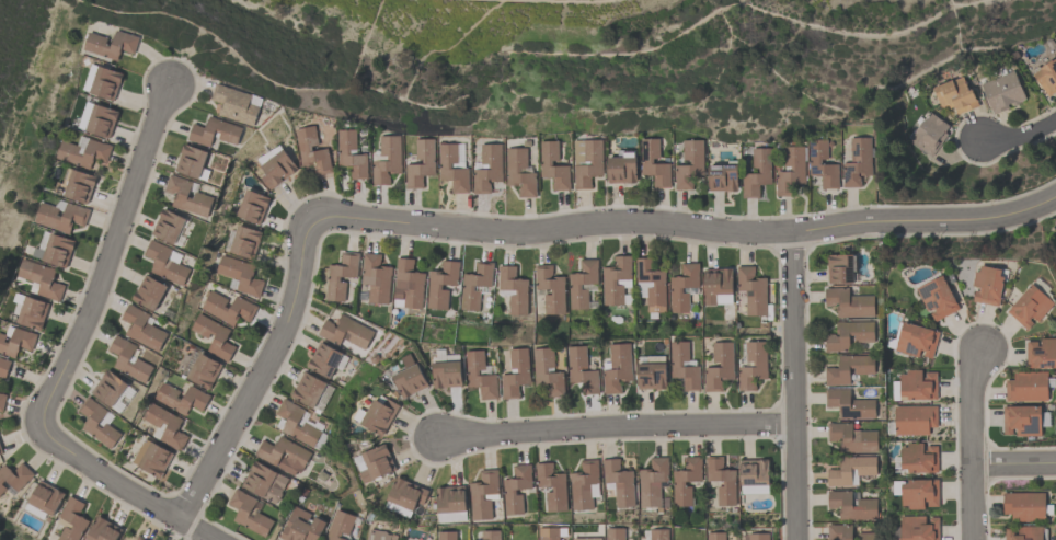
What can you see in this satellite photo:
park: (10, 45)
building: (110, 46)
building: (1047, 74)
building: (105, 83)
building: (1003, 90)
building: (956, 93)
building: (234, 104)
building: (101, 120)
building: (214, 131)
building: (930, 133)
road: (1015, 135)
building: (305, 149)
building: (343, 151)
building: (83, 152)
building: (191, 160)
building: (387, 160)
building: (587, 160)
building: (858, 160)
building: (428, 161)
building: (655, 161)
building: (690, 162)
building: (554, 163)
building: (823, 163)
building: (445, 165)
building: (487, 168)
building: (623, 168)
building: (276, 169)
building: (791, 170)
building: (520, 171)
building: (758, 171)
building: (724, 175)
building: (76, 185)
building: (187, 196)
building: (252, 206)
building: (61, 216)
building: (168, 226)
road: (524, 233)
building: (244, 241)
building: (57, 250)
road: (105, 253)
building: (165, 263)
building: (841, 267)
building: (240, 274)
building: (340, 275)
building: (41, 278)
building: (375, 278)
building: (616, 279)
building: (716, 282)
building: (659, 283)
building: (408, 284)
building: (988, 284)
building: (434, 285)
building: (575, 285)
building: (468, 286)
building: (682, 287)
building: (551, 289)
building: (521, 290)
building: (759, 290)
building: (149, 292)
building: (938, 296)
building: (850, 302)
building: (1031, 303)
building: (228, 308)
building: (32, 312)
building: (142, 329)
building: (346, 332)
building: (214, 336)
building: (837, 337)
building: (917, 338)
building: (16, 342)
building: (1042, 352)
building: (124, 358)
building: (323, 359)
building: (761, 361)
building: (3, 365)
building: (685, 365)
building: (720, 365)
building: (618, 367)
building: (583, 368)
building: (848, 368)
building: (204, 370)
building: (548, 370)
building: (517, 371)
building: (447, 374)
building: (653, 374)
building: (480, 375)
building: (409, 377)
building: (918, 383)
building: (1028, 386)
building: (108, 388)
road: (795, 388)
building: (308, 389)
building: (181, 398)
building: (2, 401)
building: (849, 403)
building: (379, 415)
building: (915, 418)
building: (1023, 418)
building: (92, 422)
building: (296, 423)
building: (165, 425)
road: (618, 430)
building: (852, 437)
road: (973, 444)
building: (0, 450)
building: (268, 456)
building: (919, 457)
building: (151, 458)
road: (1014, 462)
building: (377, 463)
building: (755, 470)
building: (839, 472)
building: (14, 476)
building: (652, 481)
building: (685, 481)
building: (264, 482)
building: (620, 482)
building: (730, 482)
building: (584, 483)
road: (116, 484)
building: (559, 487)
building: (509, 490)
building: (920, 491)
building: (406, 494)
building: (482, 495)
building: (46, 497)
building: (450, 498)
building: (852, 505)
building: (1025, 505)
building: (249, 512)
building: (72, 520)
building: (301, 526)
building: (340, 526)
building: (919, 527)
building: (102, 530)
building: (550, 532)
building: (847, 532)
building: (1025, 532)
building: (616, 533)
building: (659, 533)
building: (490, 535)
building: (380, 536)
building: (447, 536)
building: (716, 536)
building: (759, 536)
building: (139, 538)

